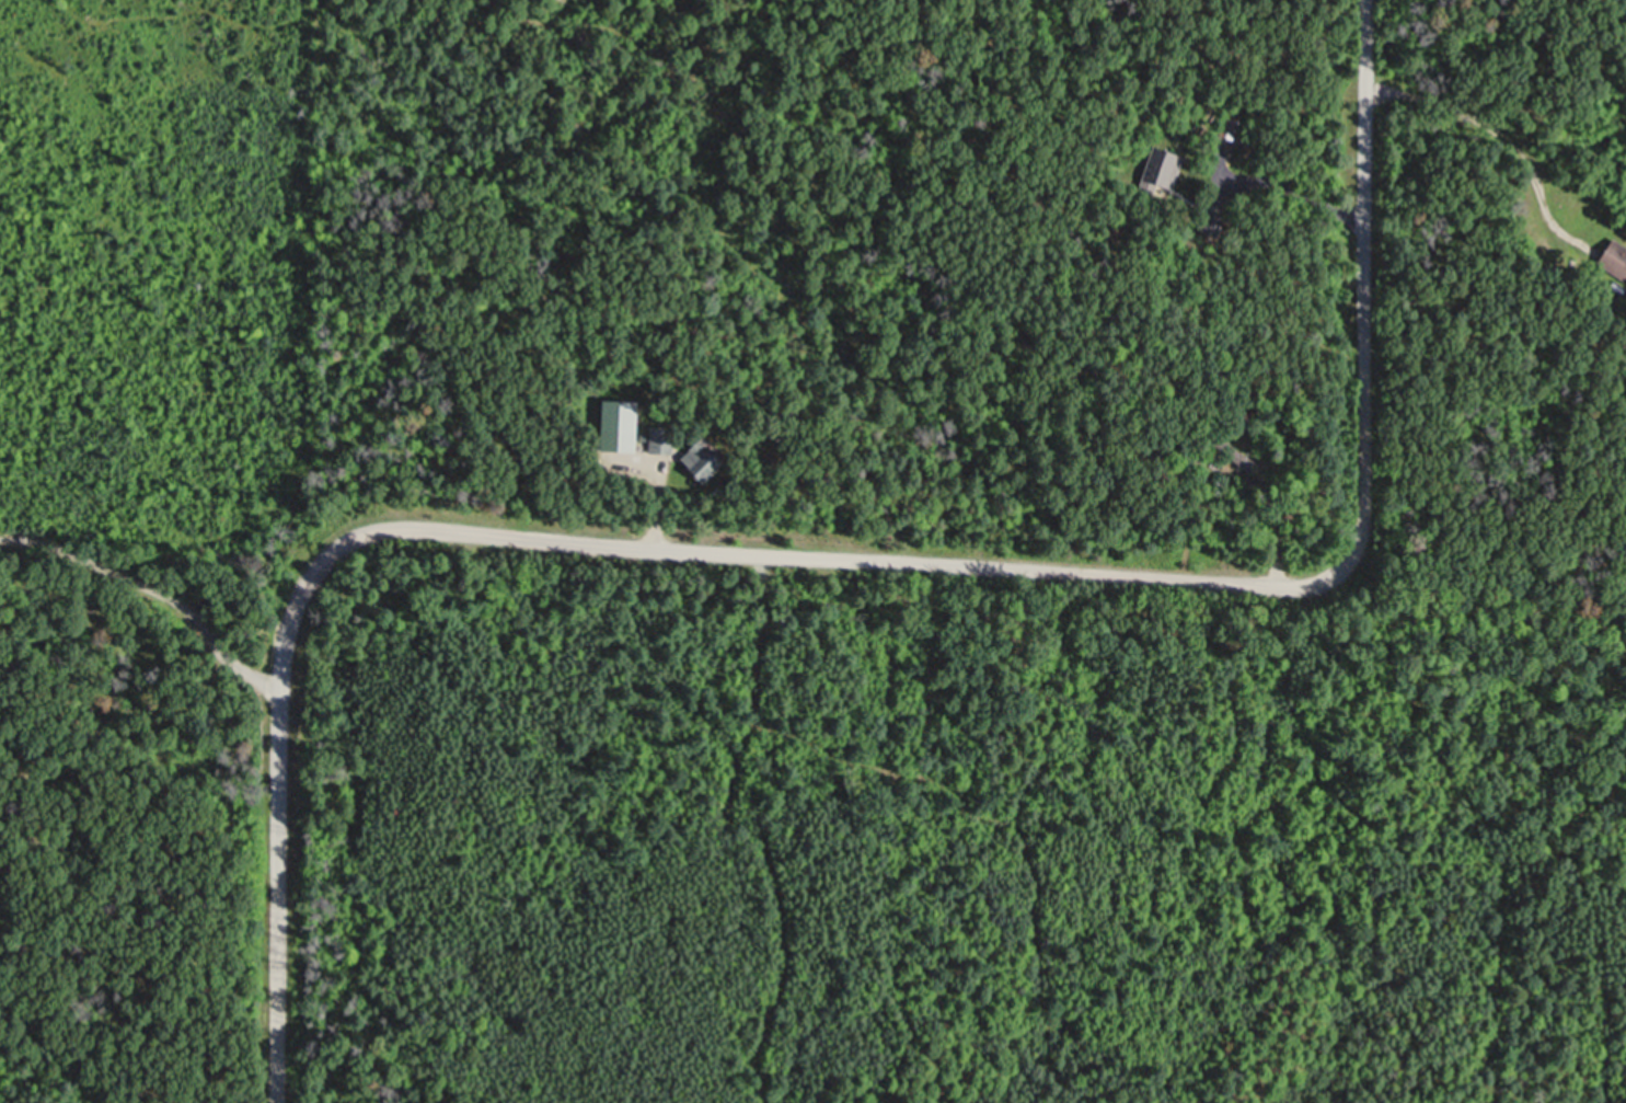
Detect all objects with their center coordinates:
building: (1165, 165)
building: (1615, 256)
building: (708, 462)
road: (840, 561)
road: (143, 590)

